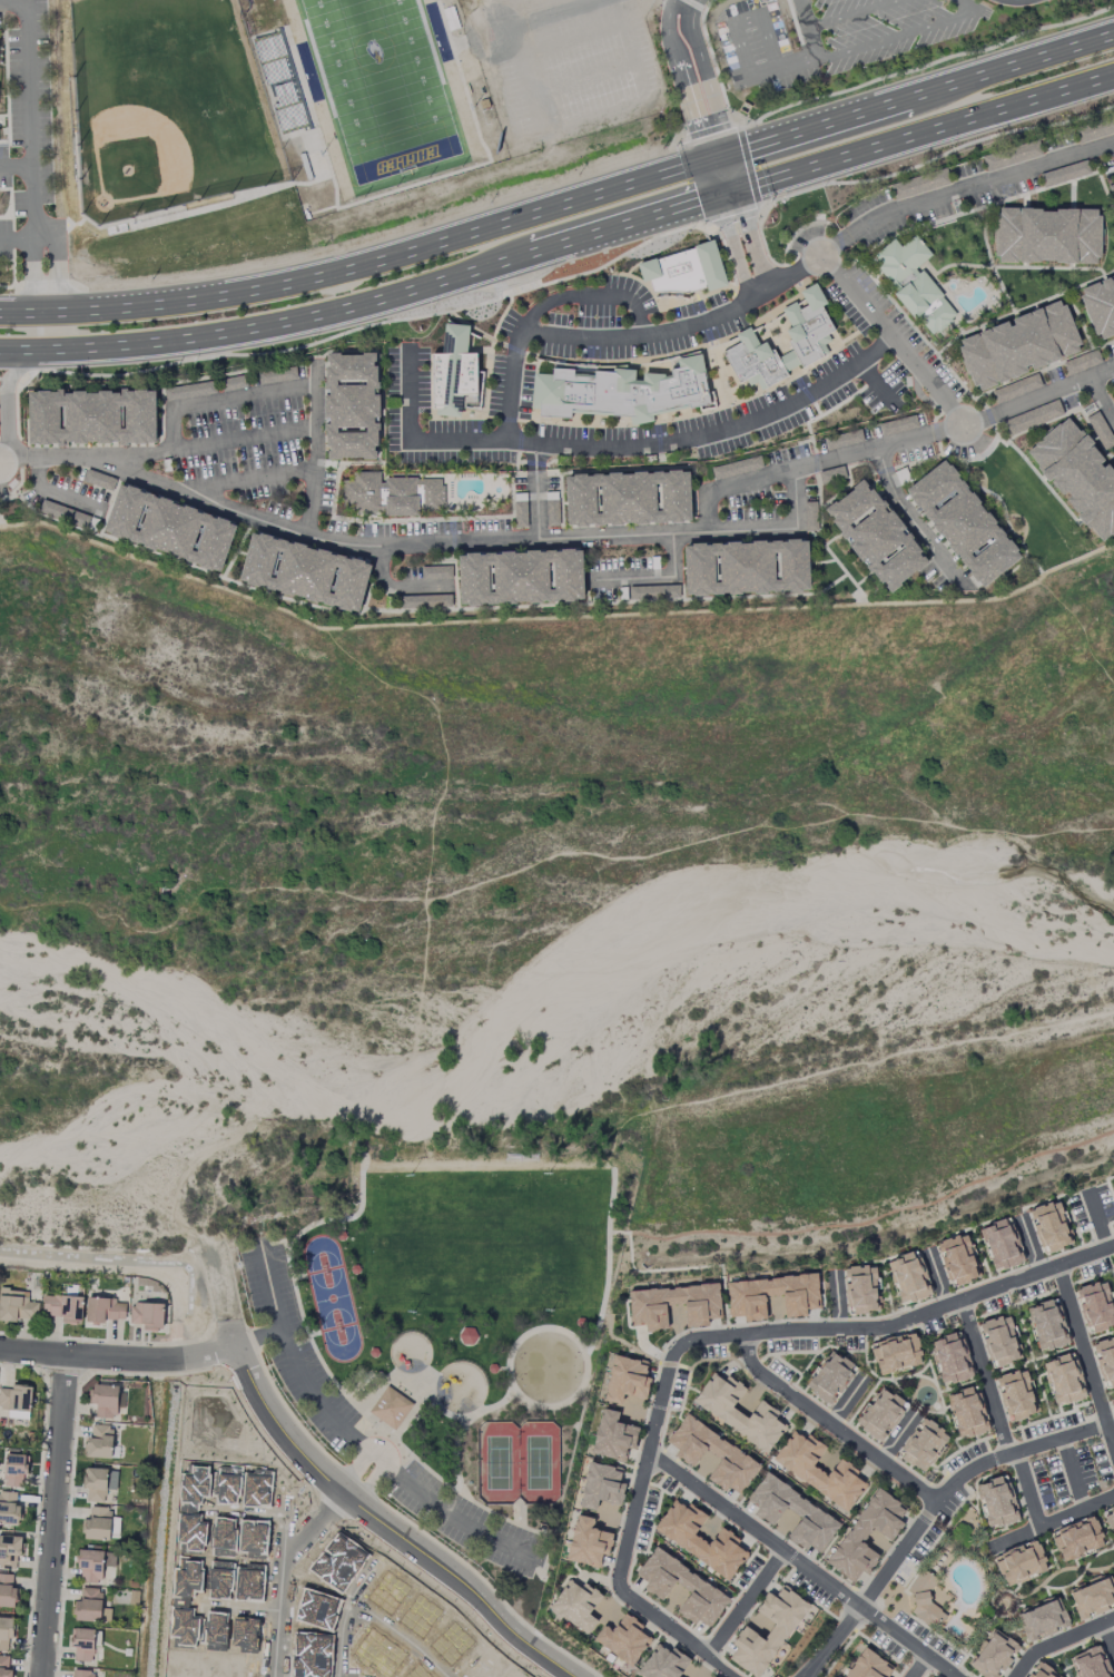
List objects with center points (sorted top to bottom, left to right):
road: (687, 3)
road: (442, 7)
road: (847, 13)
road: (545, 14)
road: (731, 23)
park: (440, 31)
road: (895, 35)
road: (482, 36)
road: (252, 41)
road: (809, 46)
building: (464, 63)
stadium: (464, 63)
road: (934, 63)
park: (310, 71)
road: (706, 78)
road: (680, 80)
building: (286, 81)
stadium: (286, 81)
park: (385, 90)
road: (920, 95)
building: (486, 104)
road: (28, 107)
building: (743, 110)
road: (684, 127)
road: (755, 128)
road: (709, 130)
road: (924, 131)
traffic signals: (728, 155)
road: (943, 155)
road: (717, 158)
traffic signals: (706, 161)
road: (16, 164)
road: (750, 169)
road: (731, 173)
road: (437, 177)
road: (711, 178)
road: (1102, 183)
road: (978, 186)
road: (1005, 189)
traffic signals: (736, 190)
road: (726, 193)
traffic signals: (717, 196)
road: (1073, 196)
road: (1025, 203)
road: (767, 204)
road: (323, 210)
road: (975, 212)
road: (736, 222)
road: (693, 224)
road: (800, 231)
road: (20, 233)
road: (41, 234)
road: (925, 235)
road: (825, 238)
building: (1047, 238)
road: (750, 241)
road: (898, 241)
road: (840, 243)
road: (835, 246)
road: (733, 247)
road: (338, 249)
road: (842, 253)
road: (618, 259)
road: (770, 262)
road: (992, 262)
road: (358, 266)
road: (917, 267)
road: (1022, 269)
road: (796, 272)
building: (682, 273)
road: (876, 275)
road: (30, 278)
road: (511, 278)
road: (937, 284)
building: (914, 285)
road: (60, 287)
road: (541, 288)
road: (723, 292)
road: (999, 292)
road: (585, 297)
parking lot: (858, 300)
road: (364, 302)
road: (990, 303)
building: (1100, 308)
road: (1033, 310)
road: (1023, 311)
road: (502, 318)
road: (1081, 323)
parking lot: (625, 326)
road: (470, 328)
road: (913, 328)
road: (985, 330)
road: (946, 332)
road: (960, 332)
building: (808, 340)
road: (491, 341)
road: (501, 346)
building: (1017, 349)
road: (515, 351)
road: (268, 355)
road: (315, 362)
road: (1053, 366)
road: (278, 367)
road: (32, 370)
road: (1044, 372)
building: (450, 375)
parking lot: (407, 379)
road: (9, 380)
road: (928, 383)
road: (878, 386)
road: (1004, 386)
road: (7, 391)
parking lot: (510, 392)
road: (806, 392)
parking lot: (831, 392)
road: (1054, 393)
building: (621, 395)
building: (473, 396)
road: (962, 399)
road: (1102, 402)
road: (190, 406)
building: (348, 408)
road: (967, 408)
road: (949, 409)
road: (818, 411)
road: (828, 413)
road: (161, 414)
building: (89, 416)
road: (936, 418)
road: (988, 418)
road: (987, 419)
road: (1057, 419)
road: (156, 420)
road: (538, 421)
road: (17, 424)
parking lot: (240, 434)
road: (936, 434)
road: (1092, 440)
road: (245, 441)
road: (805, 442)
road: (411, 443)
parking lot: (525, 443)
road: (520, 444)
road: (553, 447)
road: (162, 448)
road: (1012, 448)
road: (315, 451)
road: (536, 458)
road: (802, 458)
road: (12, 459)
road: (827, 462)
road: (967, 462)
road: (521, 463)
road: (918, 463)
road: (534, 464)
road: (551, 464)
road: (18, 465)
road: (516, 465)
road: (816, 465)
road: (643, 470)
road: (885, 472)
road: (337, 474)
road: (535, 475)
road: (398, 477)
road: (513, 478)
building: (1076, 478)
road: (849, 479)
road: (254, 480)
road: (1042, 480)
road: (1046, 488)
road: (14, 491)
road: (56, 496)
building: (391, 497)
road: (485, 498)
building: (624, 501)
road: (536, 504)
road: (559, 506)
road: (1002, 506)
park: (1034, 511)
road: (378, 518)
road: (464, 518)
road: (461, 520)
road: (911, 520)
road: (57, 522)
road: (249, 524)
building: (166, 526)
road: (697, 526)
building: (960, 526)
road: (367, 536)
road: (452, 537)
building: (874, 539)
road: (131, 542)
road: (430, 545)
road: (825, 547)
road: (233, 550)
road: (236, 555)
road: (820, 563)
road: (1019, 565)
road: (453, 567)
building: (743, 570)
building: (300, 573)
building: (517, 579)
road: (652, 579)
road: (378, 581)
road: (590, 585)
road: (246, 586)
road: (397, 588)
road: (452, 588)
road: (454, 589)
road: (589, 597)
road: (454, 604)
road: (608, 604)
road: (554, 619)
road: (1080, 628)
building: (1051, 1227)
building: (1002, 1245)
building: (958, 1259)
road: (1037, 1274)
building: (909, 1278)
building: (861, 1289)
building: (747, 1302)
building: (17, 1306)
road: (1069, 1306)
building: (62, 1307)
building: (1096, 1307)
building: (106, 1310)
building: (702, 1312)
building: (147, 1315)
park: (457, 1323)
building: (1047, 1325)
building: (1000, 1341)
building: (896, 1353)
building: (950, 1359)
road: (120, 1360)
building: (1105, 1361)
building: (830, 1377)
road: (984, 1379)
building: (627, 1380)
building: (1064, 1380)
road: (165, 1390)
road: (661, 1395)
building: (1016, 1395)
building: (16, 1397)
road: (1097, 1397)
building: (105, 1400)
building: (1112, 1404)
building: (391, 1408)
building: (967, 1413)
building: (880, 1414)
building: (727, 1415)
road: (829, 1425)
building: (613, 1436)
building: (99, 1441)
building: (924, 1444)
road: (368, 1448)
building: (726, 1452)
building: (16, 1469)
road: (355, 1469)
building: (818, 1470)
road: (1072, 1474)
road: (368, 1480)
building: (99, 1483)
building: (601, 1487)
road: (1028, 1490)
building: (997, 1502)
building: (9, 1509)
building: (806, 1510)
road: (929, 1511)
road: (52, 1518)
building: (1110, 1519)
road: (935, 1522)
road: (1051, 1522)
building: (97, 1524)
road: (390, 1524)
building: (866, 1536)
building: (1077, 1539)
building: (700, 1540)
building: (586, 1543)
building: (9, 1551)
building: (1021, 1563)
building: (90, 1566)
road: (800, 1566)
road: (1078, 1570)
road: (282, 1572)
park: (1061, 1579)
building: (694, 1586)
road: (1066, 1586)
building: (7, 1591)
building: (925, 1600)
road: (1003, 1602)
building: (89, 1605)
road: (743, 1605)
building: (576, 1606)
road: (1004, 1617)
building: (1042, 1619)
building: (6, 1631)
building: (767, 1631)
road: (1108, 1637)
building: (623, 1639)
road: (1061, 1641)
building: (82, 1644)
road: (848, 1645)
building: (994, 1655)
building: (663, 1664)
building: (1091, 1664)
building: (868, 1666)
building: (4, 1667)
road: (919, 1667)
building: (1042, 1671)
building: (81, 1674)
road: (805, 1675)
road: (808, 1675)

